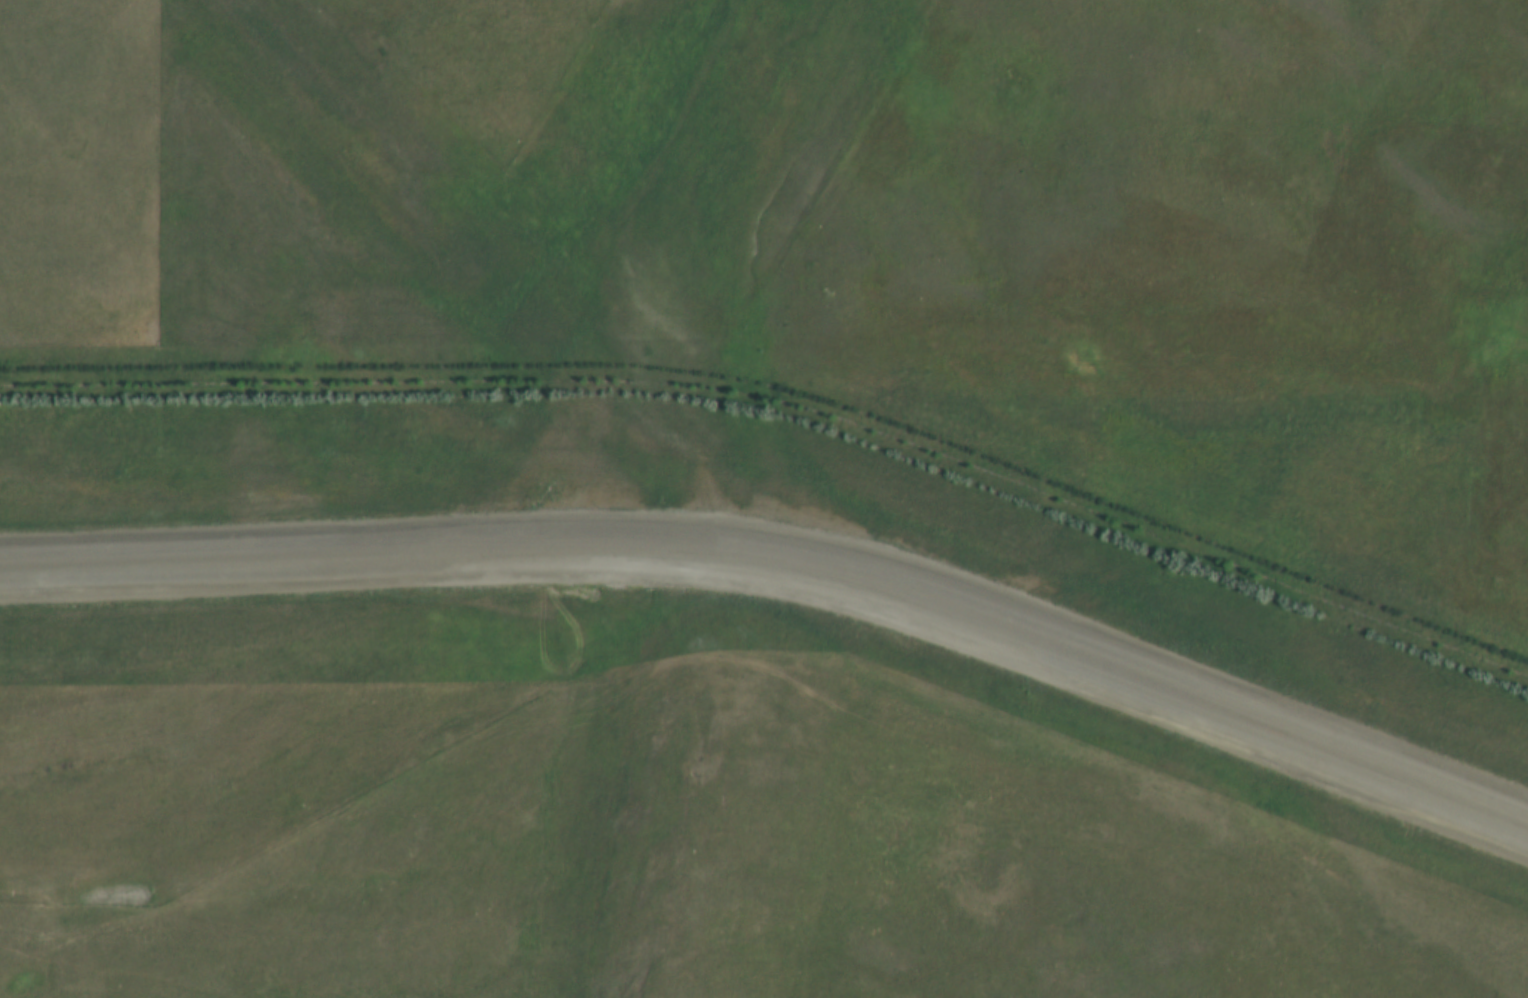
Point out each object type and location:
road: (786, 571)

